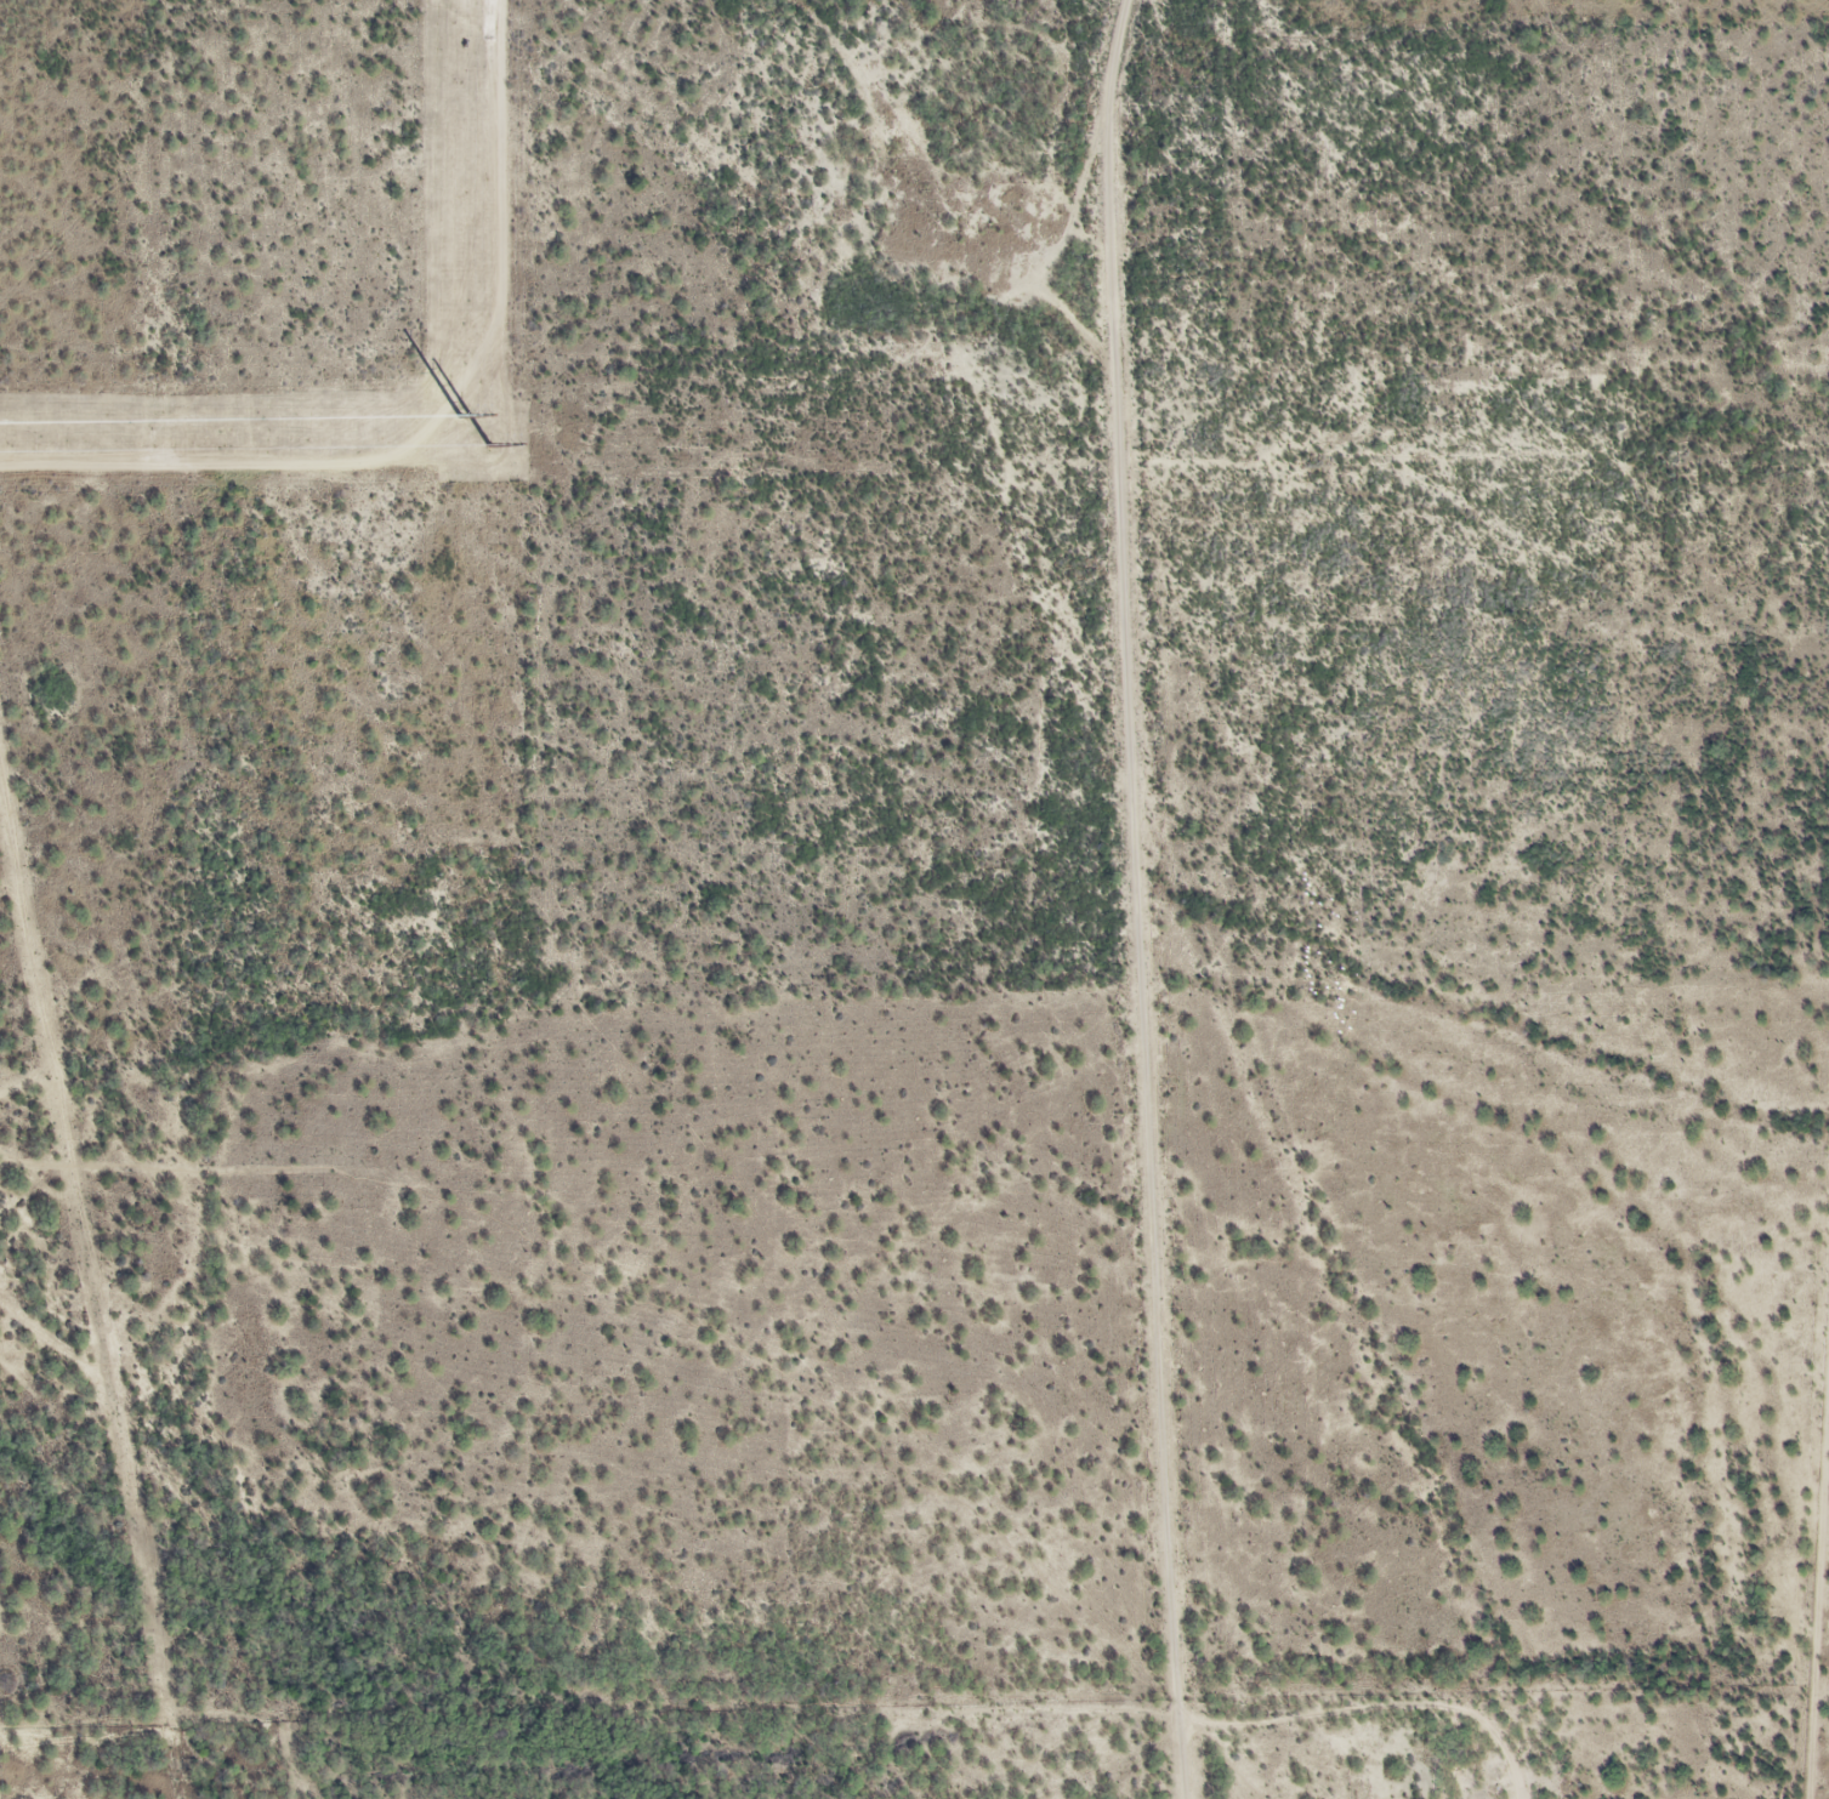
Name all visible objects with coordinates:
power tower: (488, 445)
road: (1107, 899)

